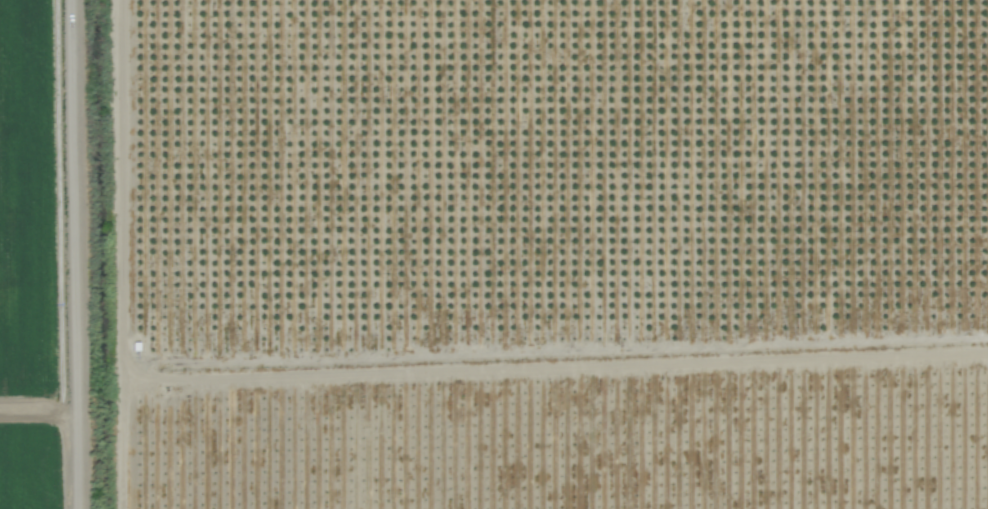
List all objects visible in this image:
road: (85, 254)
crop: (494, 254)

